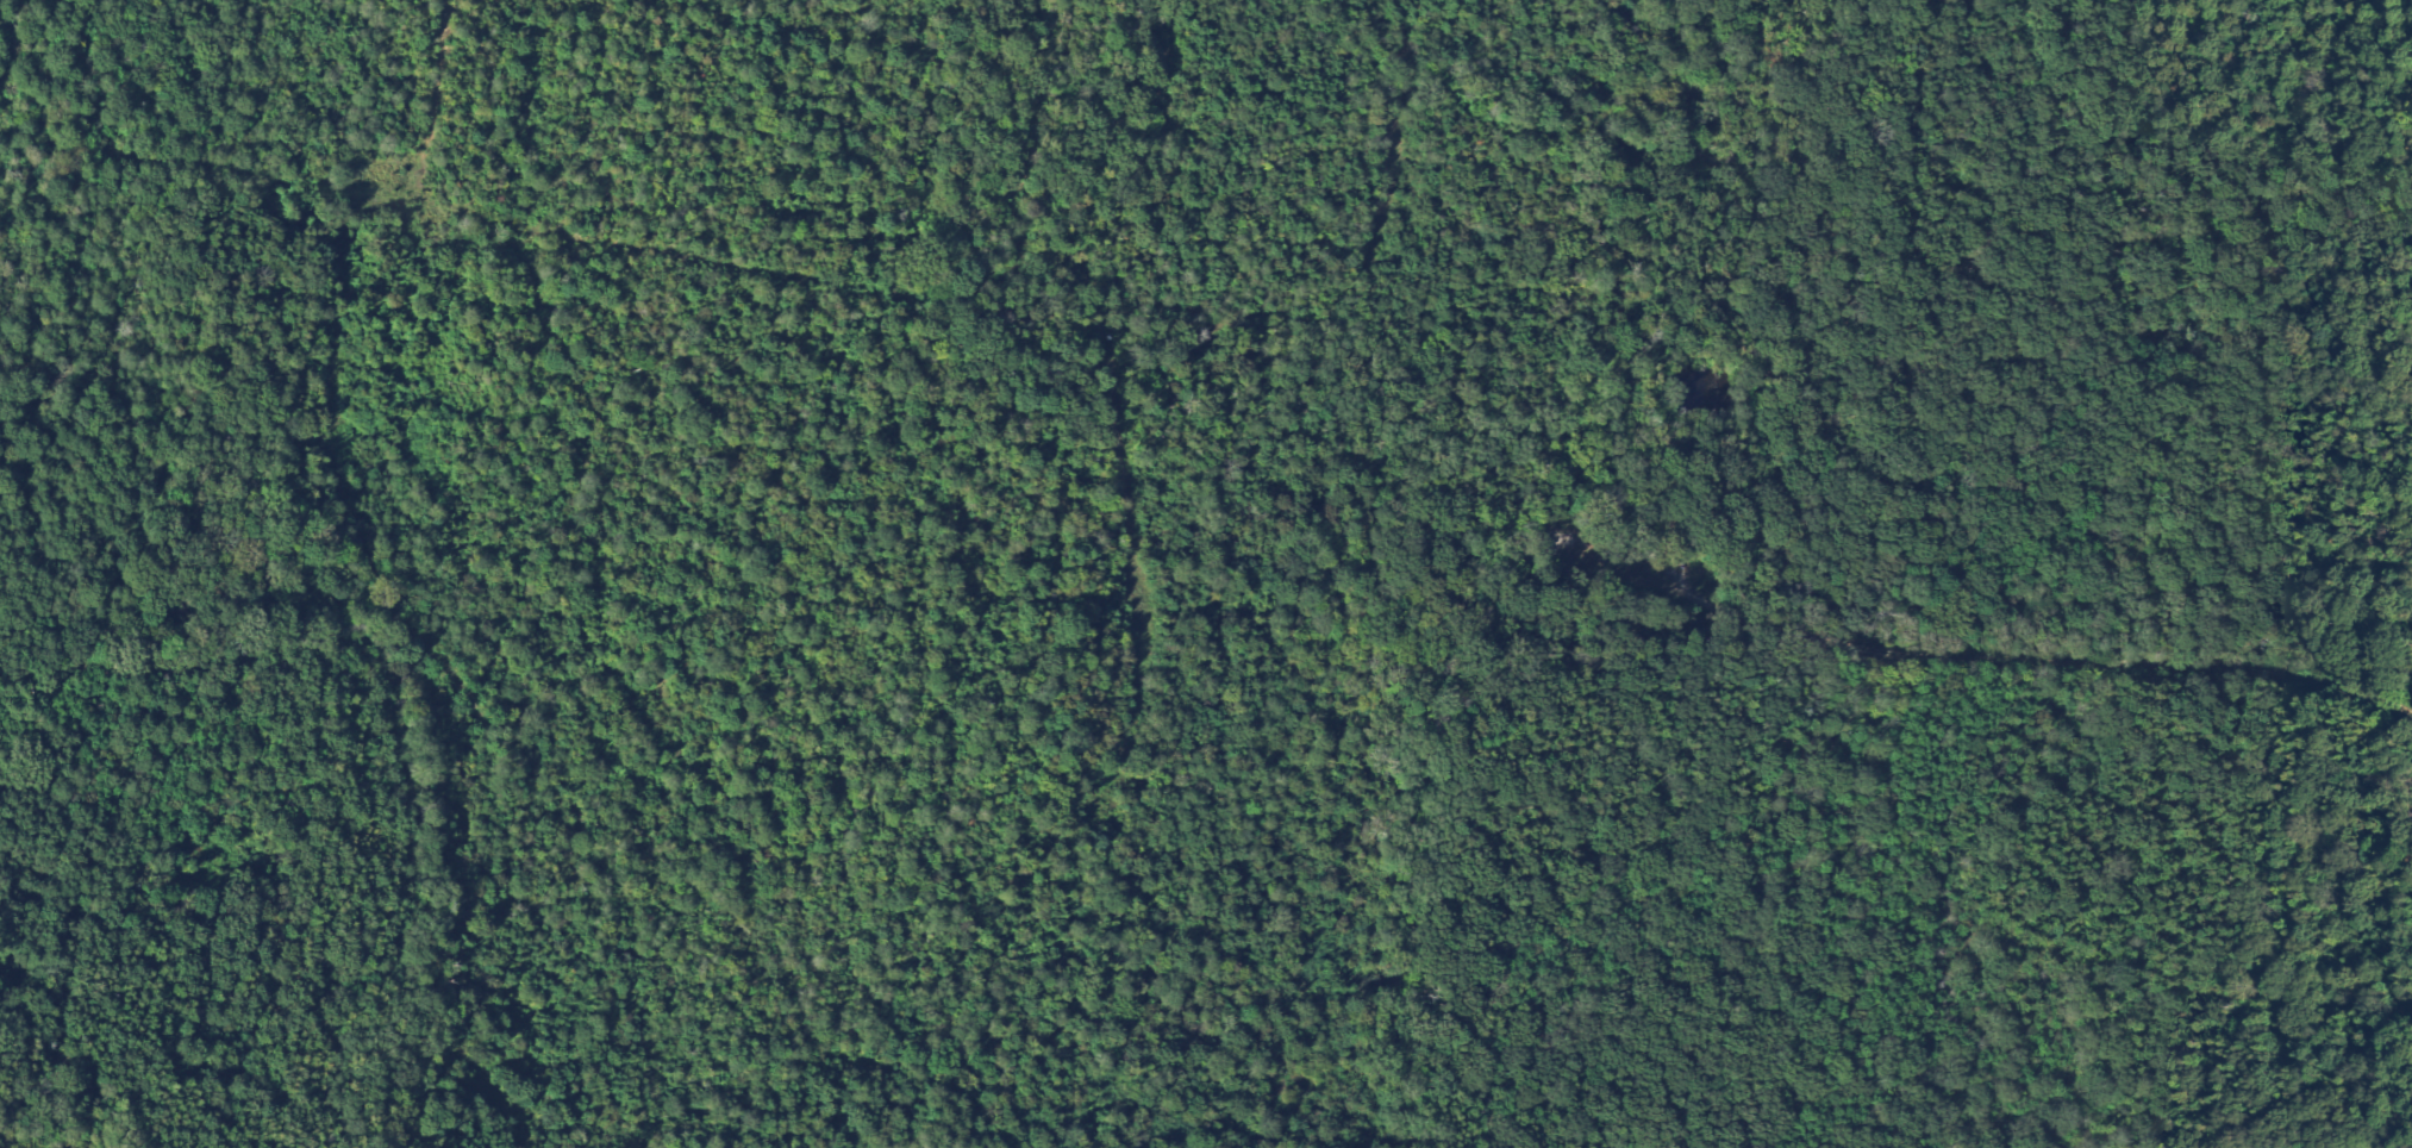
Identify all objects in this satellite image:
road: (2020, 653)

